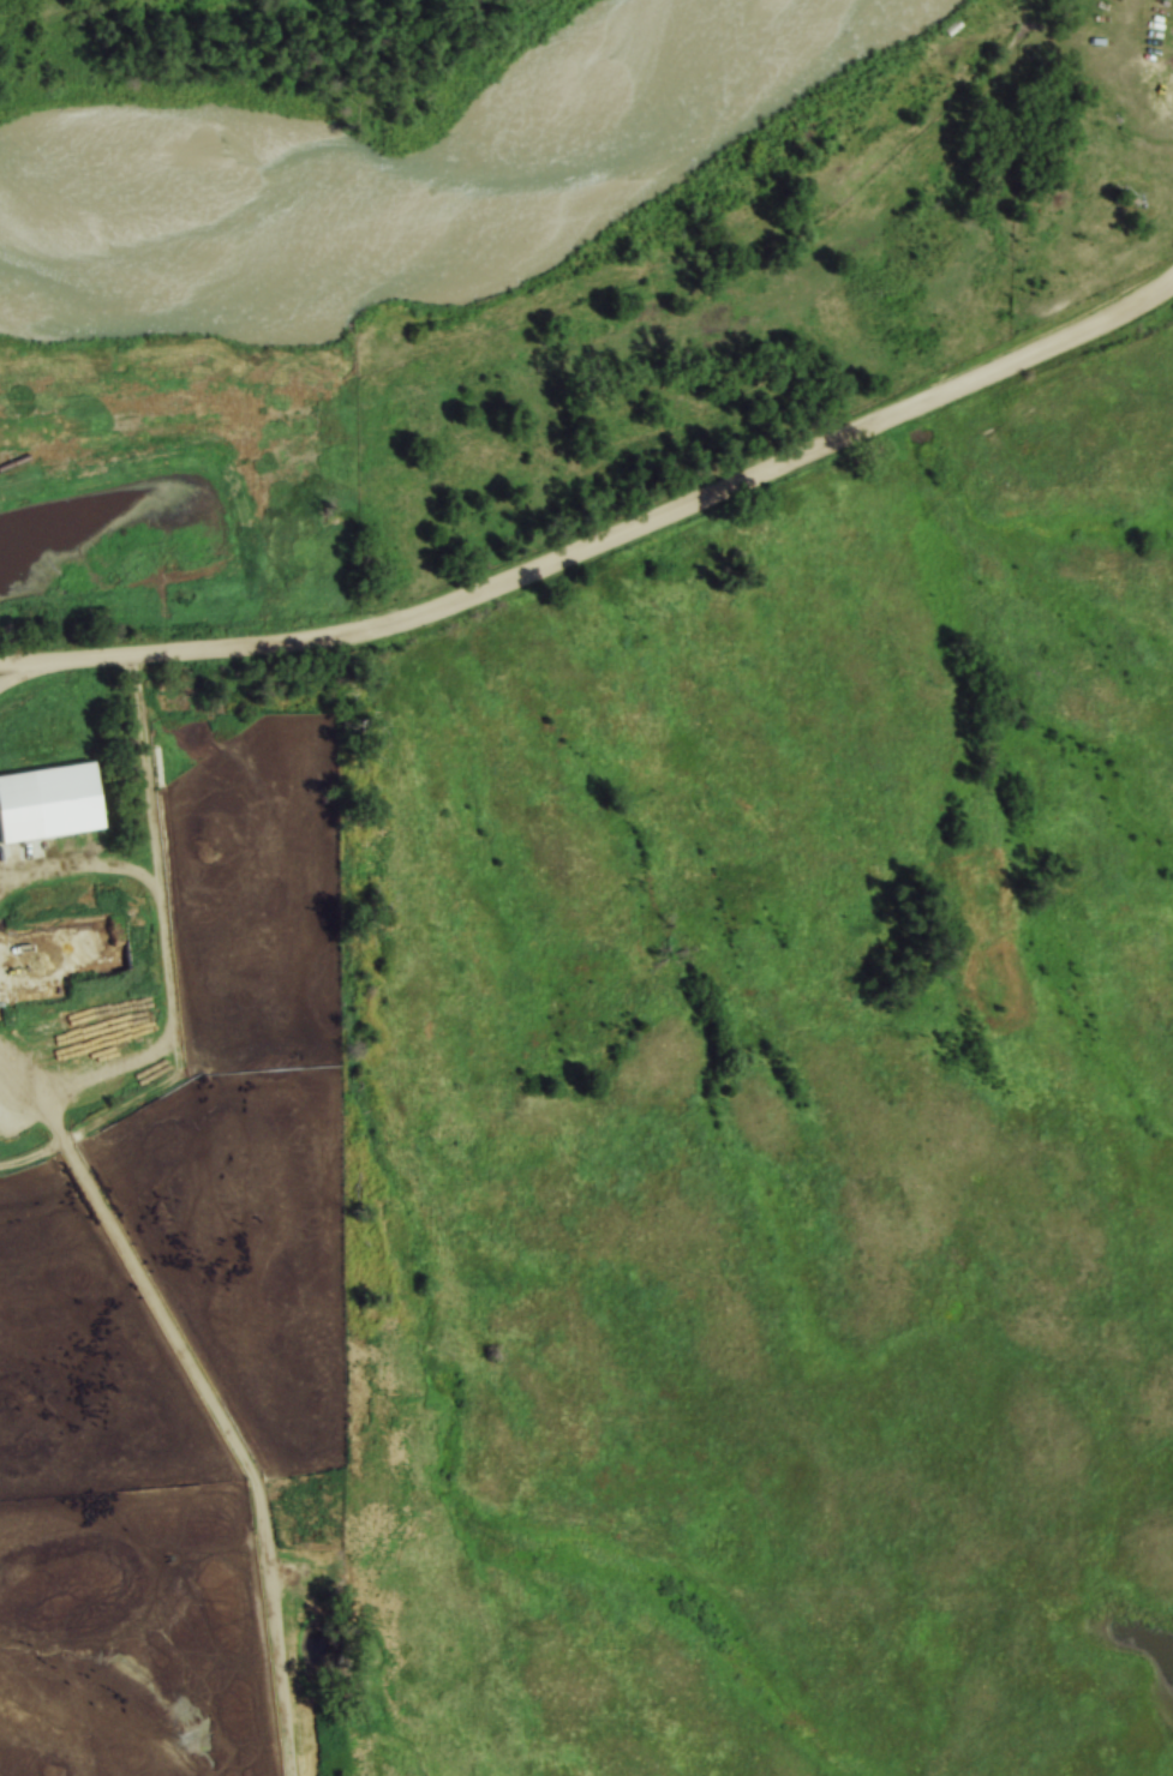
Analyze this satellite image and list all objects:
river: (426, 226)
road: (605, 544)
building: (53, 805)

